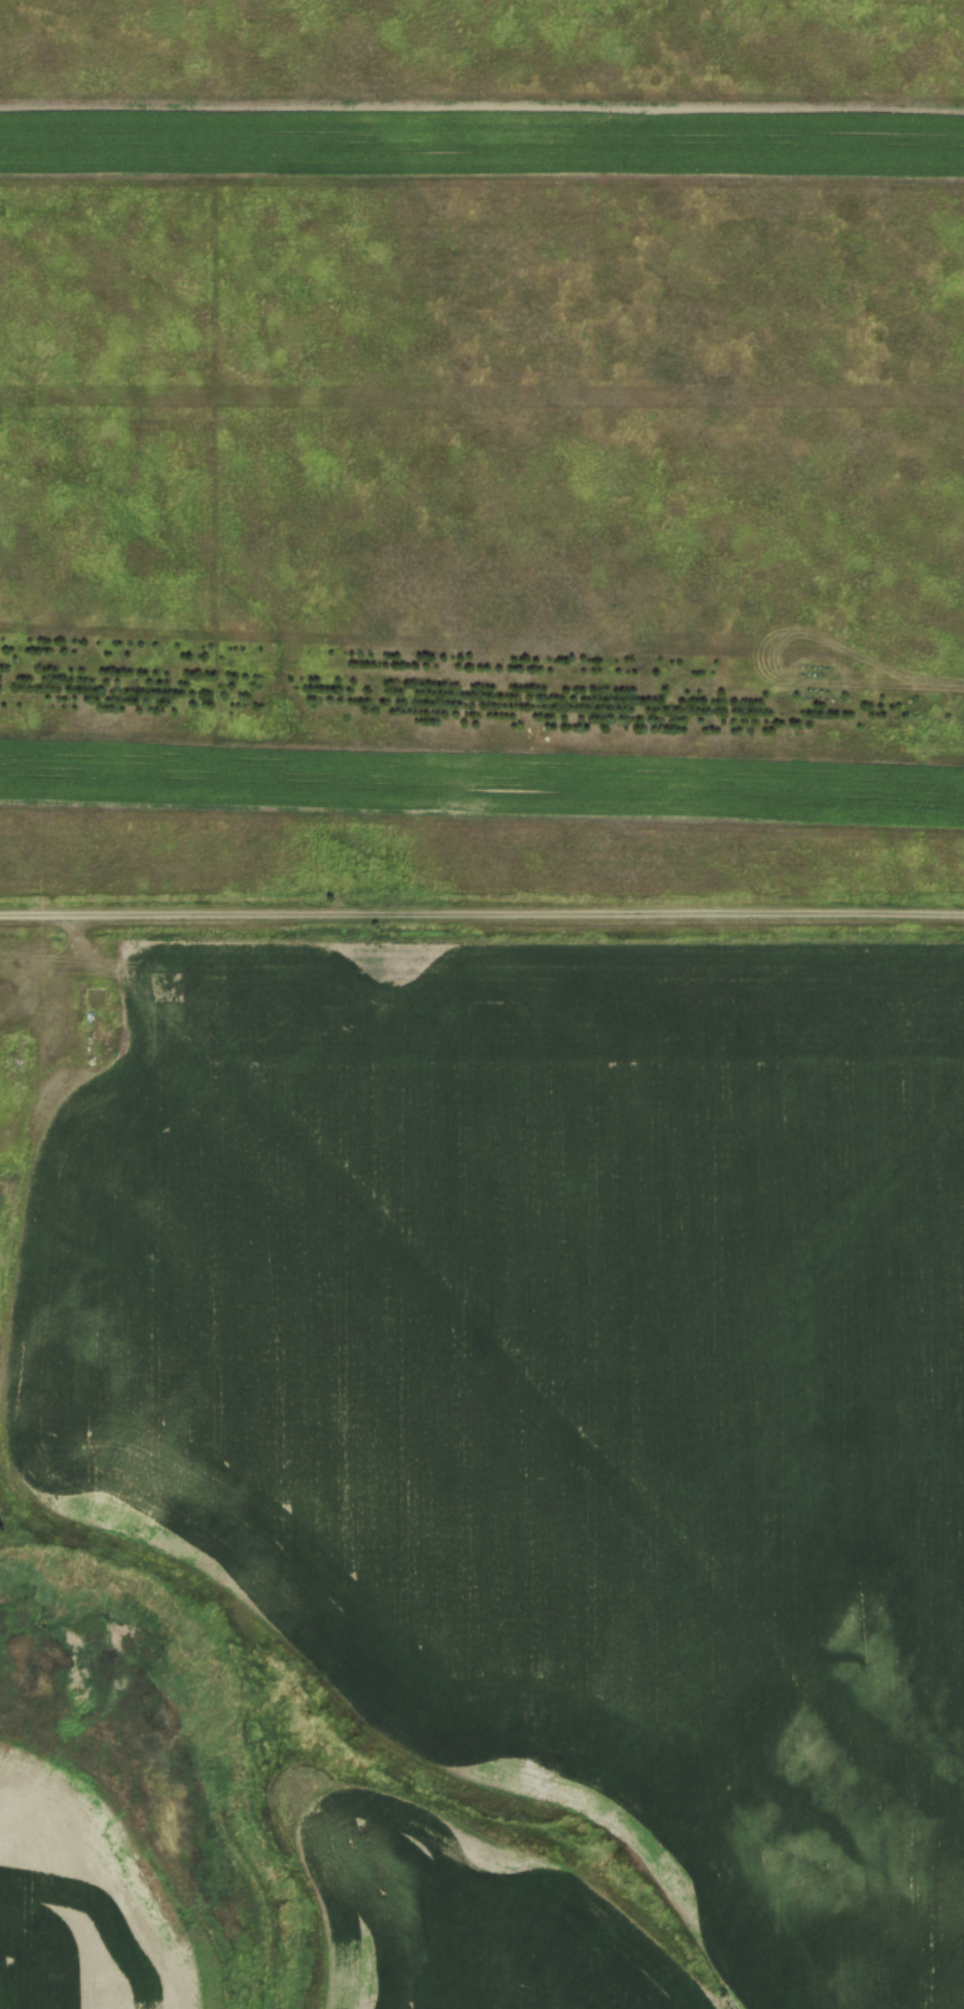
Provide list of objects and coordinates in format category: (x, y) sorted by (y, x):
road: (482, 918)

